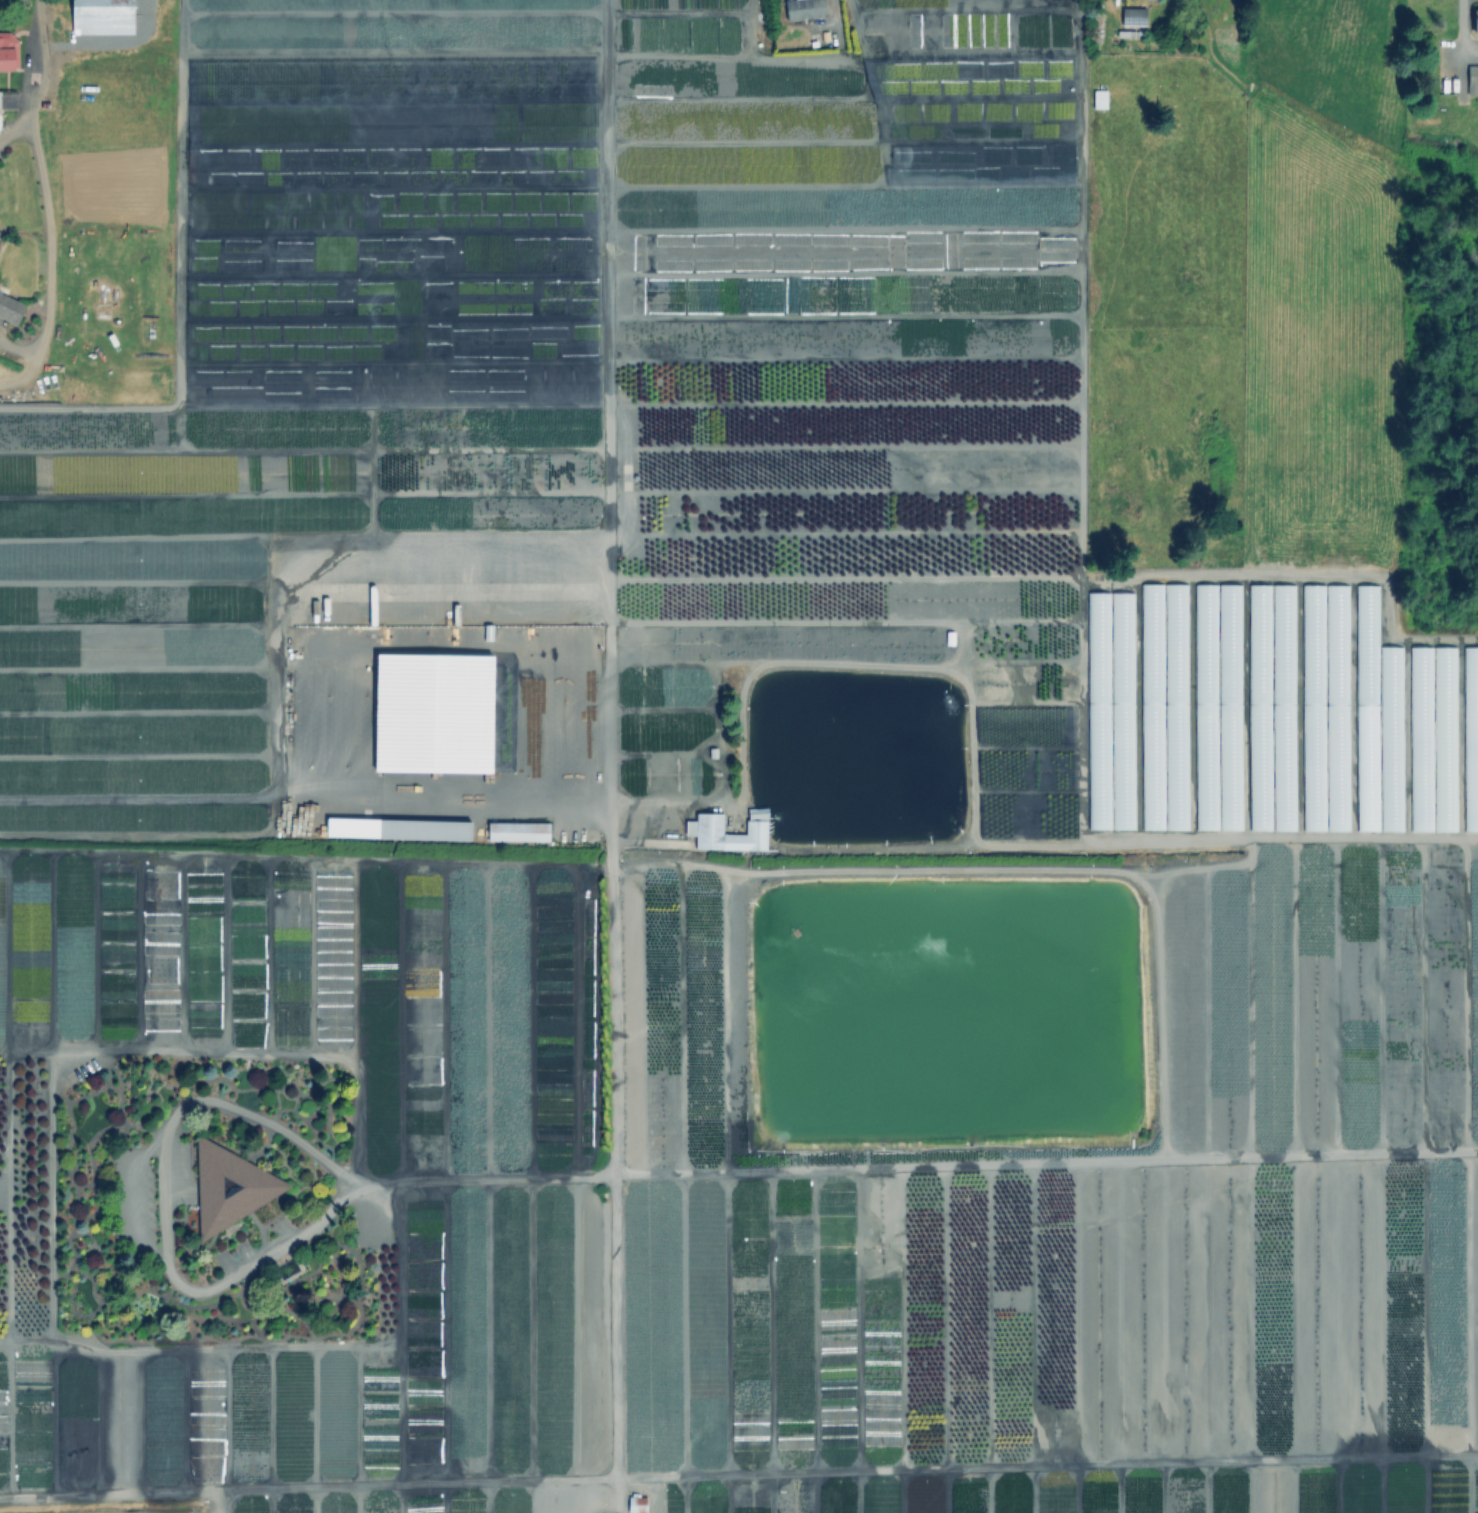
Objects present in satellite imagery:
building: (1153, 0)
road: (832, 6)
building: (807, 9)
building: (103, 17)
building: (1134, 19)
building: (1476, 23)
building: (816, 25)
building: (816, 43)
building: (9, 53)
building: (823, 59)
road: (42, 60)
building: (826, 73)
building: (1473, 81)
building: (0, 110)
road: (13, 130)
road: (48, 252)
building: (11, 308)
road: (27, 370)
road: (457, 575)
road: (608, 587)
building: (1163, 708)
building: (1215, 708)
building: (1270, 709)
building: (1323, 709)
building: (1109, 712)
building: (1375, 723)
building: (1469, 740)
building: (1431, 741)
building: (398, 828)
building: (520, 832)
building: (729, 835)
road: (913, 1166)
building: (230, 1188)
road: (162, 1202)
road: (617, 1504)
building: (639, 1504)

